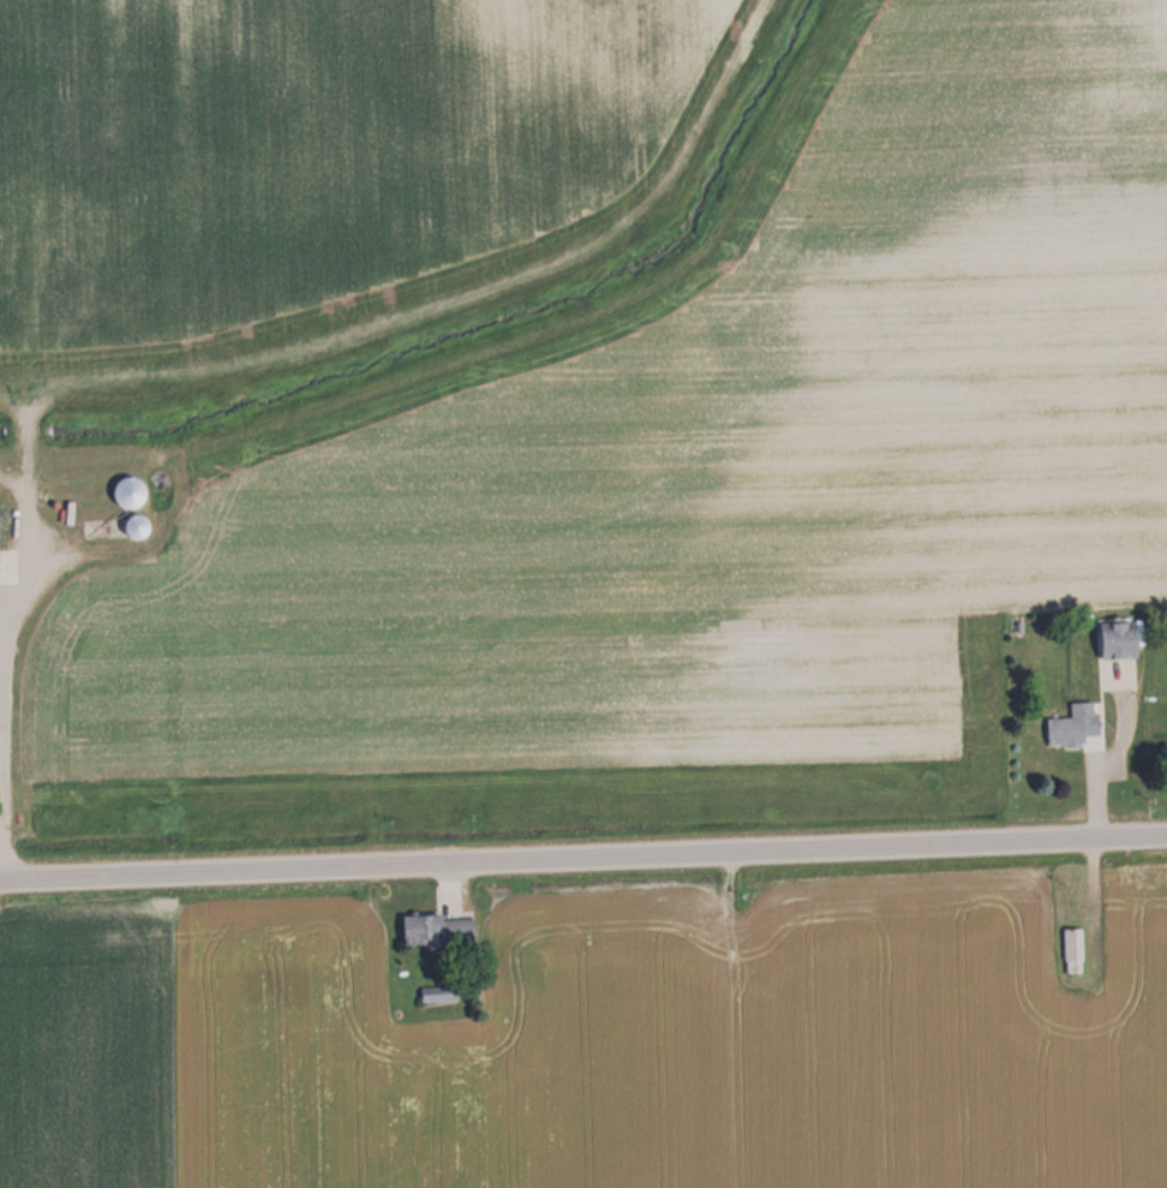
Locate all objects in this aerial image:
road: (419, 300)
road: (14, 394)
building: (127, 491)
building: (136, 526)
road: (26, 530)
building: (1117, 639)
building: (1073, 724)
road: (4, 736)
road: (582, 855)
building: (438, 930)
building: (1072, 950)
building: (438, 992)

